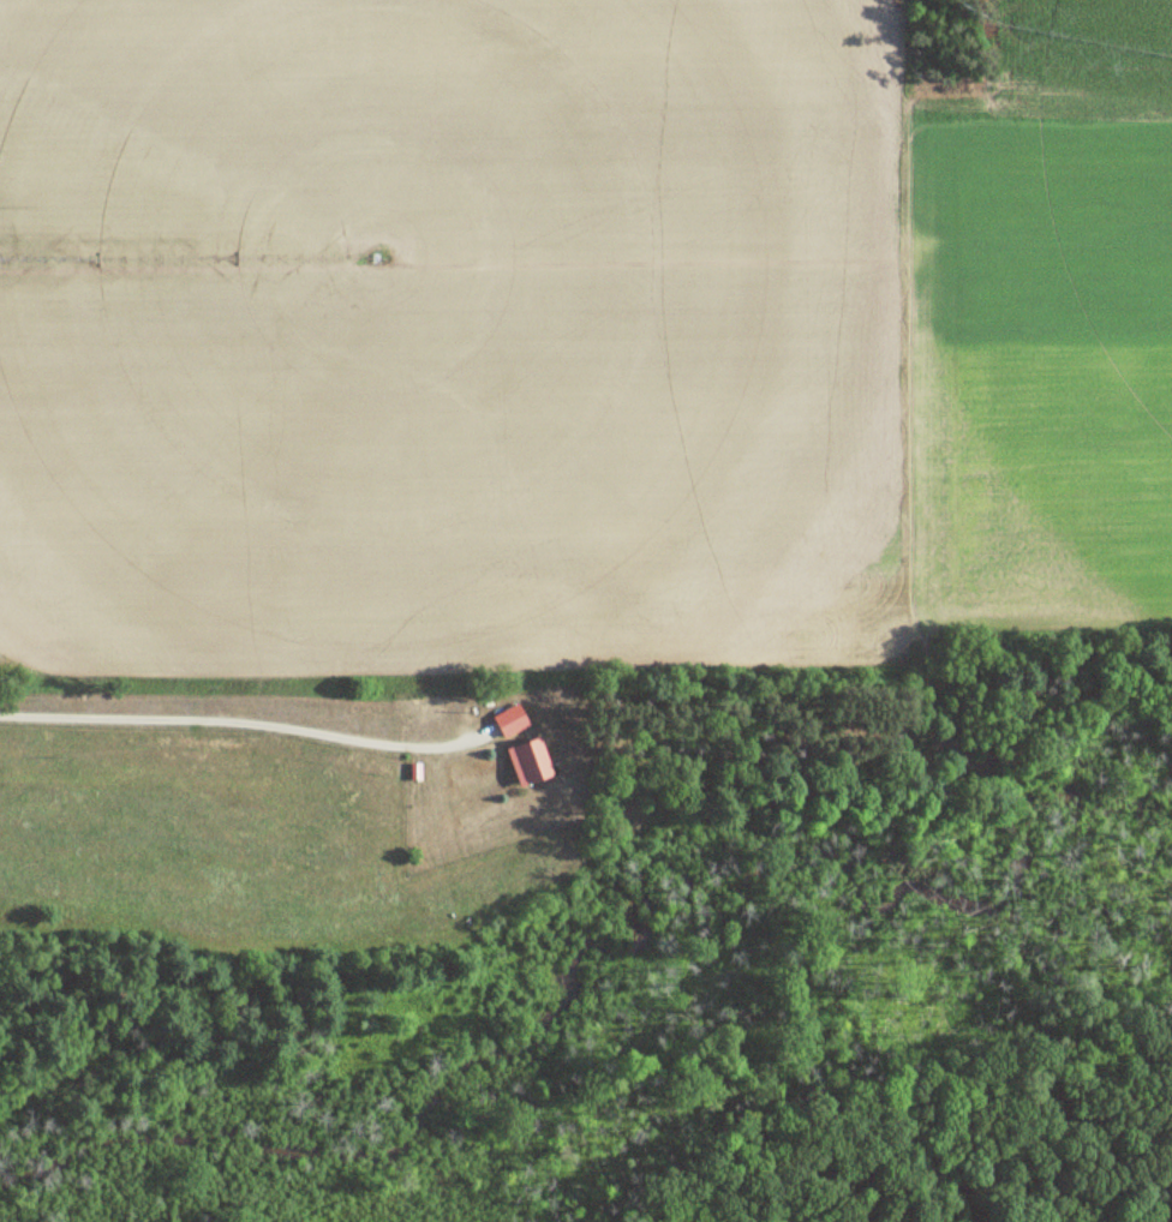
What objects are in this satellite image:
road: (243, 714)
building: (514, 720)
building: (533, 763)

